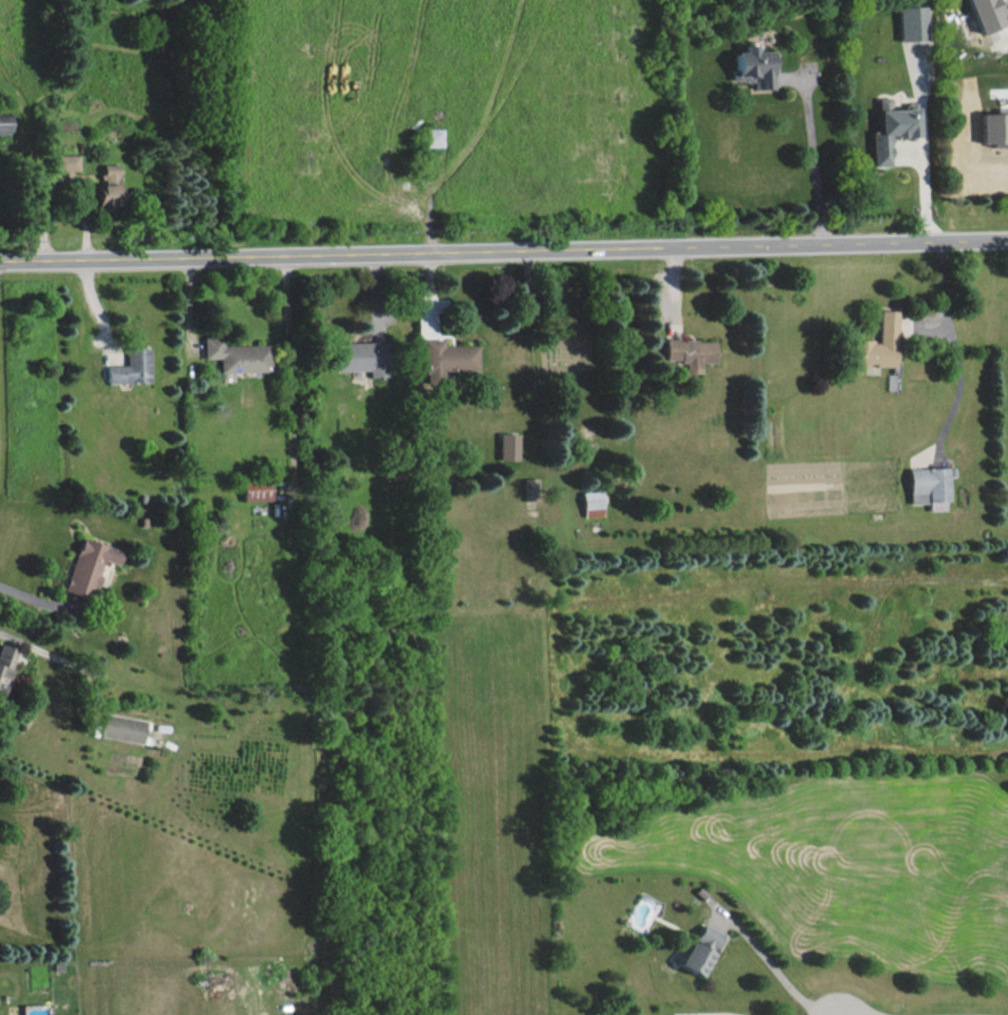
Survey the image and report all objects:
building: (988, 14)
building: (911, 22)
road: (474, 66)
building: (752, 66)
building: (2, 122)
building: (994, 127)
building: (890, 130)
building: (433, 136)
building: (66, 162)
road: (815, 168)
building: (108, 185)
road: (925, 192)
road: (504, 252)
building: (877, 343)
road: (952, 348)
building: (689, 352)
building: (237, 355)
building: (362, 356)
building: (447, 358)
building: (131, 366)
building: (507, 445)
building: (930, 486)
building: (530, 488)
building: (256, 489)
building: (591, 503)
building: (89, 566)
road: (35, 601)
building: (5, 664)
building: (124, 727)
building: (698, 950)
road: (773, 966)

